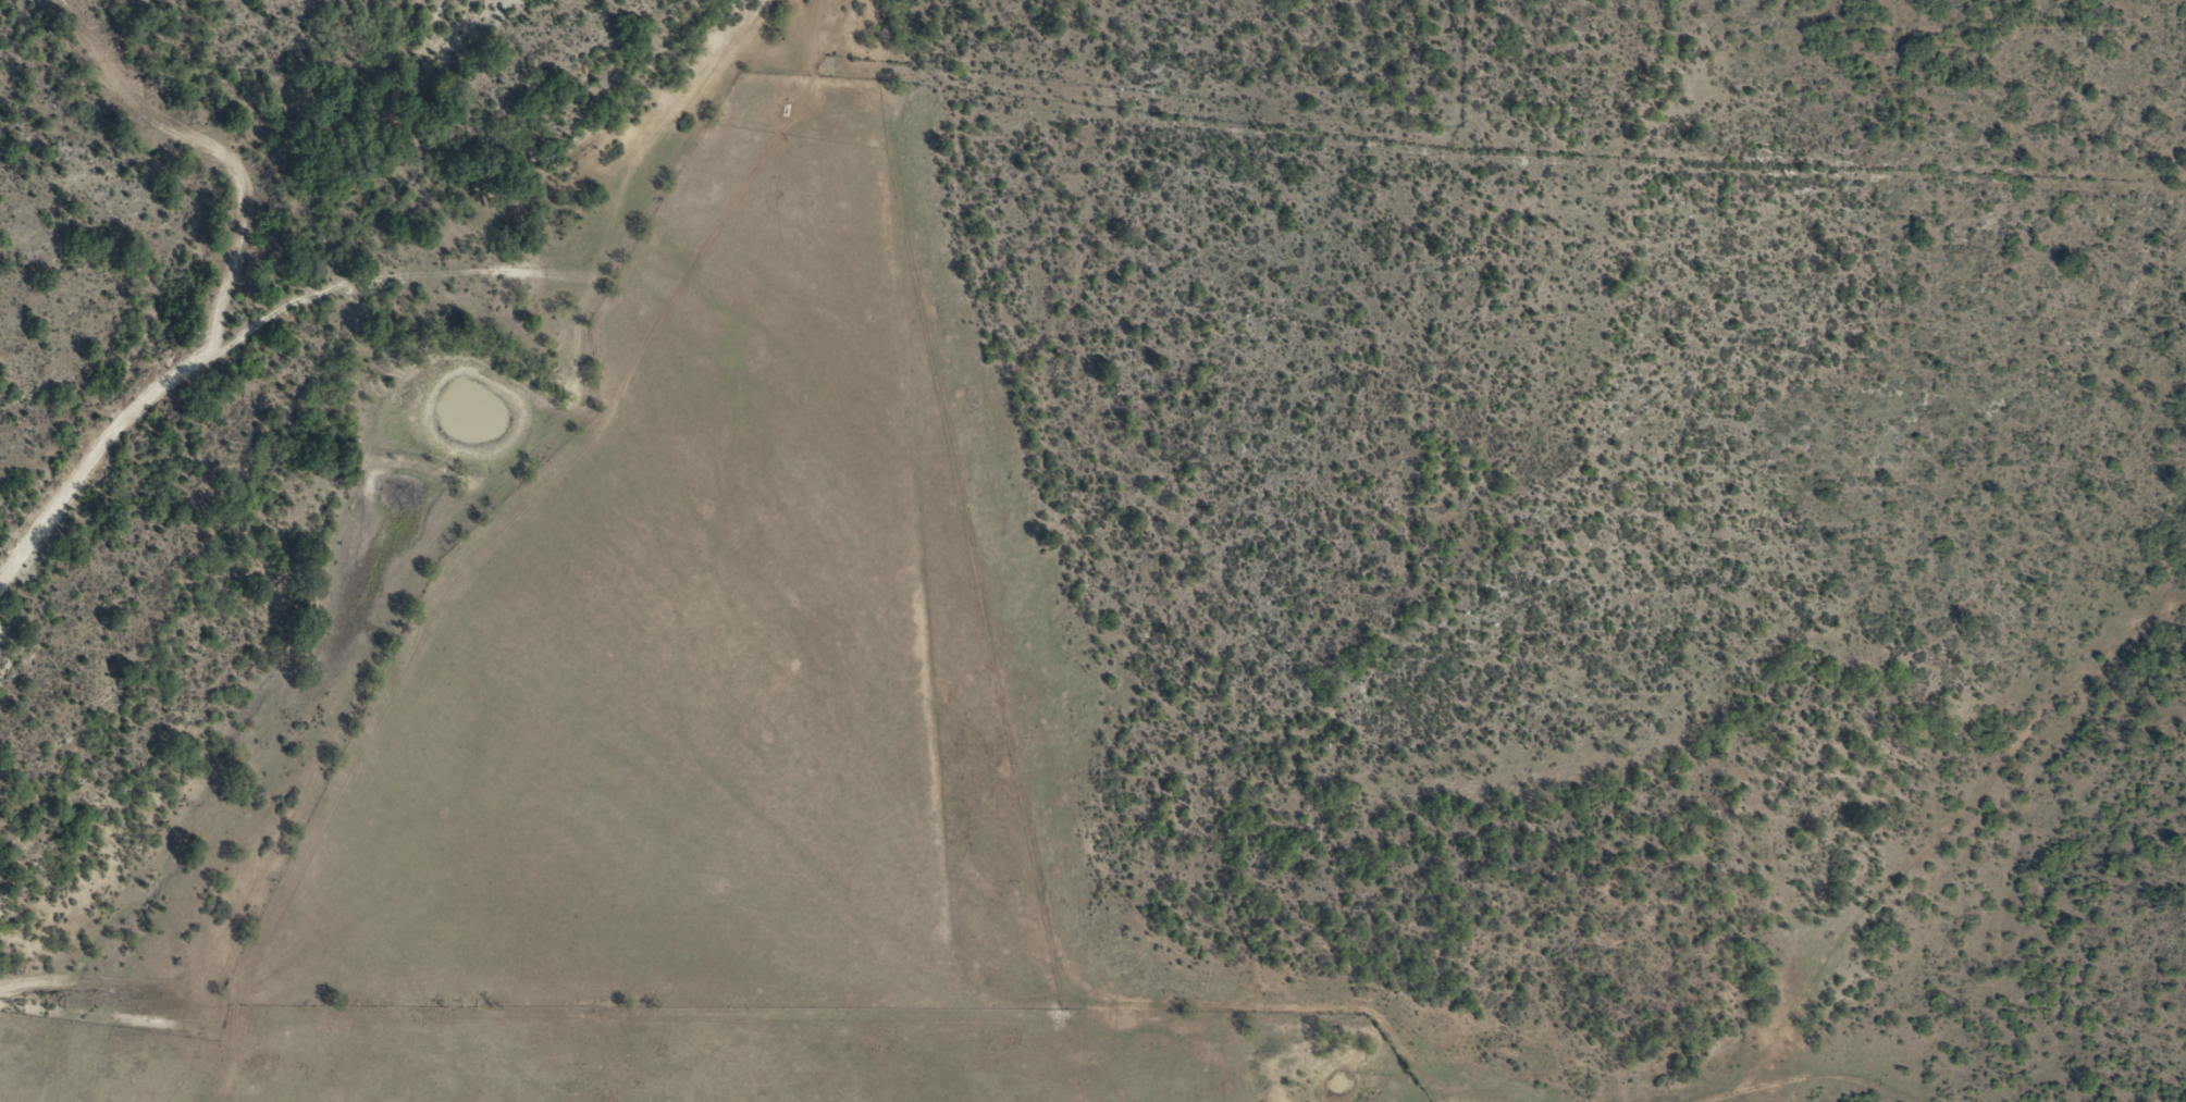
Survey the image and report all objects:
road: (576, 257)
road: (259, 346)
road: (2070, 870)
road: (1904, 1081)

